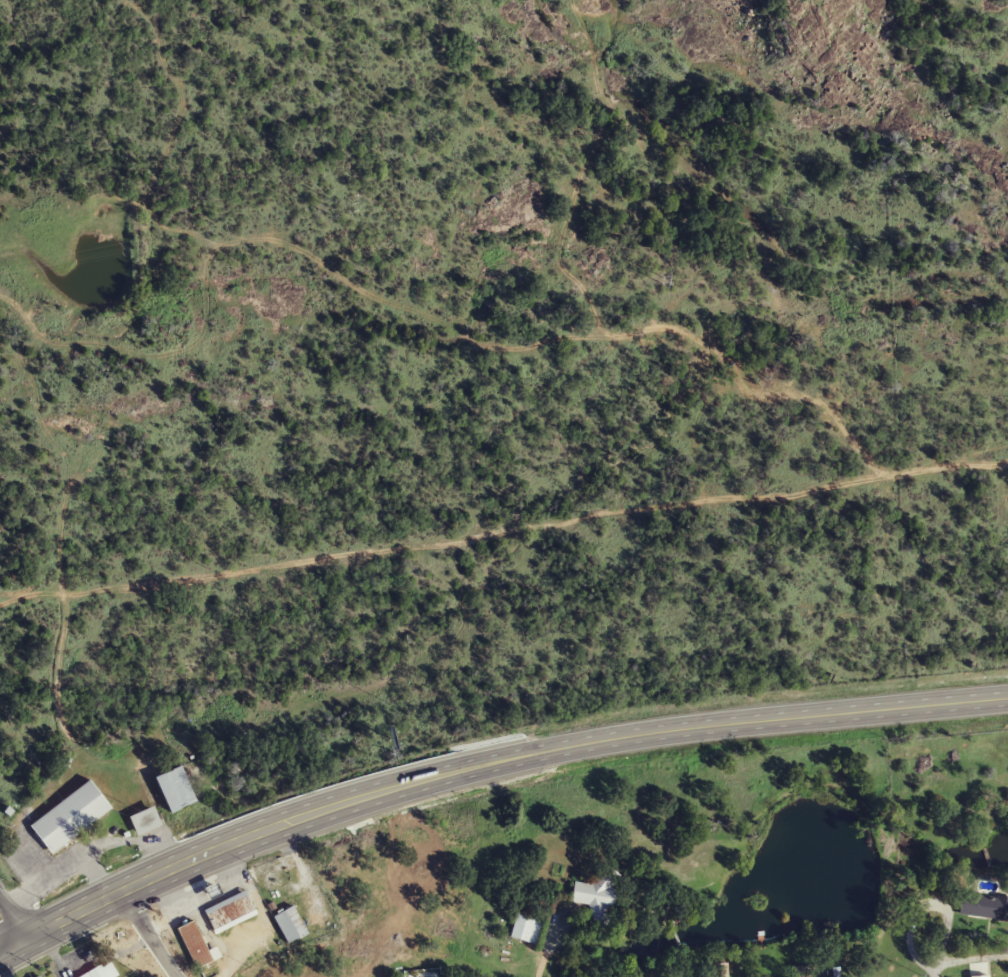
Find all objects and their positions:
power tower: (329, 205)
power tower: (661, 278)
power tower: (1003, 353)
road: (488, 759)
building: (176, 789)
building: (71, 816)
building: (145, 820)
road: (86, 853)
building: (598, 895)
building: (984, 906)
building: (230, 912)
building: (291, 924)
road: (6, 929)
building: (526, 929)
building: (197, 945)
road: (116, 946)
road: (48, 956)
road: (964, 956)
road: (543, 966)
building: (102, 971)
road: (1, 973)

